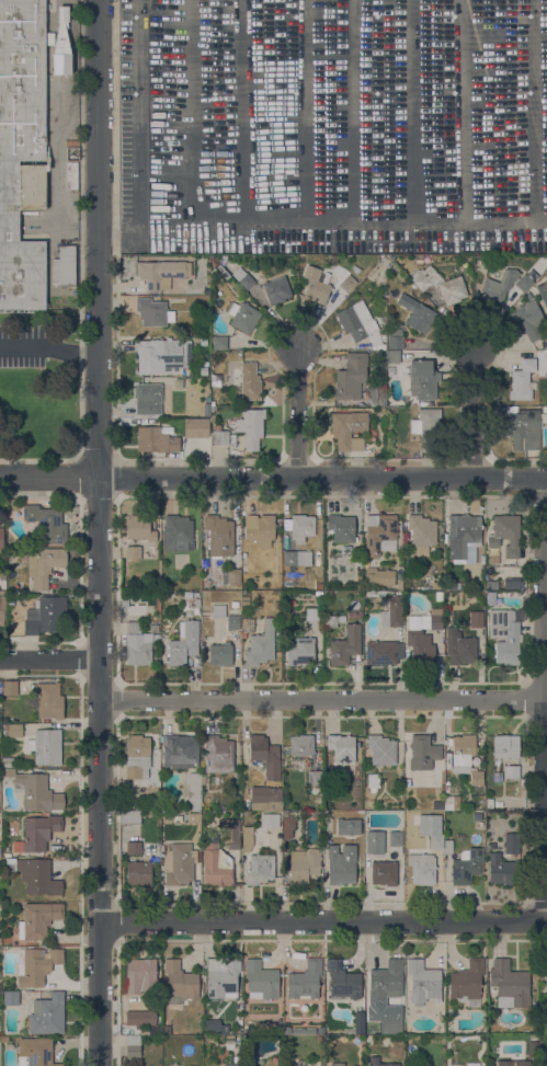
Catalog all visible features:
building: (61, 47)
building: (57, 100)
road: (137, 137)
building: (22, 150)
road: (258, 217)
road: (161, 227)
road: (99, 240)
building: (66, 265)
building: (355, 270)
building: (213, 272)
building: (223, 272)
building: (156, 273)
building: (242, 278)
building: (524, 282)
building: (317, 284)
building: (347, 284)
building: (440, 284)
building: (499, 286)
building: (276, 290)
building: (542, 291)
building: (153, 312)
building: (417, 313)
building: (242, 316)
building: (528, 320)
building: (360, 324)
building: (383, 328)
building: (395, 339)
building: (203, 341)
building: (219, 342)
road: (49, 352)
building: (163, 354)
building: (392, 356)
building: (203, 370)
building: (350, 376)
building: (422, 379)
building: (247, 380)
building: (524, 380)
building: (377, 394)
building: (148, 399)
building: (379, 411)
building: (195, 412)
road: (480, 413)
road: (299, 414)
building: (196, 427)
building: (251, 427)
building: (426, 427)
building: (524, 427)
building: (347, 429)
building: (220, 436)
building: (156, 440)
road: (49, 479)
road: (322, 479)
building: (47, 524)
building: (301, 527)
building: (139, 528)
building: (341, 528)
building: (260, 529)
building: (176, 534)
building: (379, 534)
building: (421, 534)
building: (463, 535)
building: (504, 535)
building: (219, 537)
building: (1, 539)
building: (11, 552)
building: (133, 552)
building: (297, 558)
building: (493, 558)
building: (44, 565)
building: (232, 575)
building: (379, 576)
building: (511, 582)
building: (449, 584)
building: (492, 584)
building: (319, 585)
building: (438, 585)
building: (398, 586)
building: (328, 594)
building: (438, 596)
building: (490, 597)
building: (10, 601)
building: (123, 601)
building: (196, 603)
building: (235, 604)
building: (277, 605)
building: (2, 609)
building: (195, 610)
building: (218, 610)
building: (392, 612)
building: (189, 614)
building: (311, 614)
building: (45, 616)
building: (476, 619)
building: (332, 620)
building: (232, 622)
building: (247, 626)
building: (278, 635)
building: (423, 635)
building: (505, 635)
building: (183, 643)
building: (261, 644)
building: (136, 645)
building: (346, 646)
building: (459, 647)
building: (300, 651)
building: (383, 652)
building: (220, 653)
road: (50, 661)
building: (0, 687)
building: (10, 688)
building: (48, 700)
road: (323, 701)
building: (12, 731)
building: (8, 744)
building: (301, 744)
building: (46, 746)
building: (505, 746)
building: (341, 747)
building: (381, 749)
building: (180, 750)
building: (422, 753)
building: (219, 754)
building: (265, 755)
building: (137, 756)
building: (465, 757)
building: (512, 771)
road: (101, 772)
building: (327, 777)
building: (315, 778)
building: (373, 781)
building: (32, 788)
building: (194, 790)
building: (266, 798)
building: (452, 802)
building: (489, 802)
building: (498, 803)
building: (129, 817)
building: (193, 817)
building: (270, 819)
building: (478, 825)
building: (287, 826)
building: (347, 826)
building: (37, 833)
building: (231, 833)
building: (247, 838)
building: (395, 838)
building: (435, 840)
building: (374, 841)
building: (512, 843)
building: (447, 847)
building: (133, 848)
building: (0, 851)
building: (179, 863)
building: (216, 863)
building: (341, 864)
building: (303, 866)
building: (466, 867)
building: (260, 869)
building: (422, 869)
building: (503, 870)
building: (139, 872)
building: (384, 873)
building: (35, 875)
building: (36, 920)
road: (323, 922)
building: (36, 965)
building: (136, 977)
building: (221, 977)
building: (385, 978)
building: (261, 979)
building: (305, 979)
building: (342, 979)
building: (180, 982)
building: (423, 982)
building: (467, 982)
building: (510, 984)
building: (10, 998)
building: (546, 1000)
building: (47, 1015)
building: (133, 1018)
building: (239, 1018)
building: (215, 1025)
building: (333, 1027)
building: (149, 1028)
building: (375, 1029)
building: (358, 1030)
building: (4, 1040)
building: (320, 1040)
building: (133, 1046)
building: (35, 1052)
building: (546, 1055)
building: (373, 1062)
building: (300, 1063)
building: (514, 1063)
building: (337, 1064)
building: (472, 1064)
building: (231, 1065)

